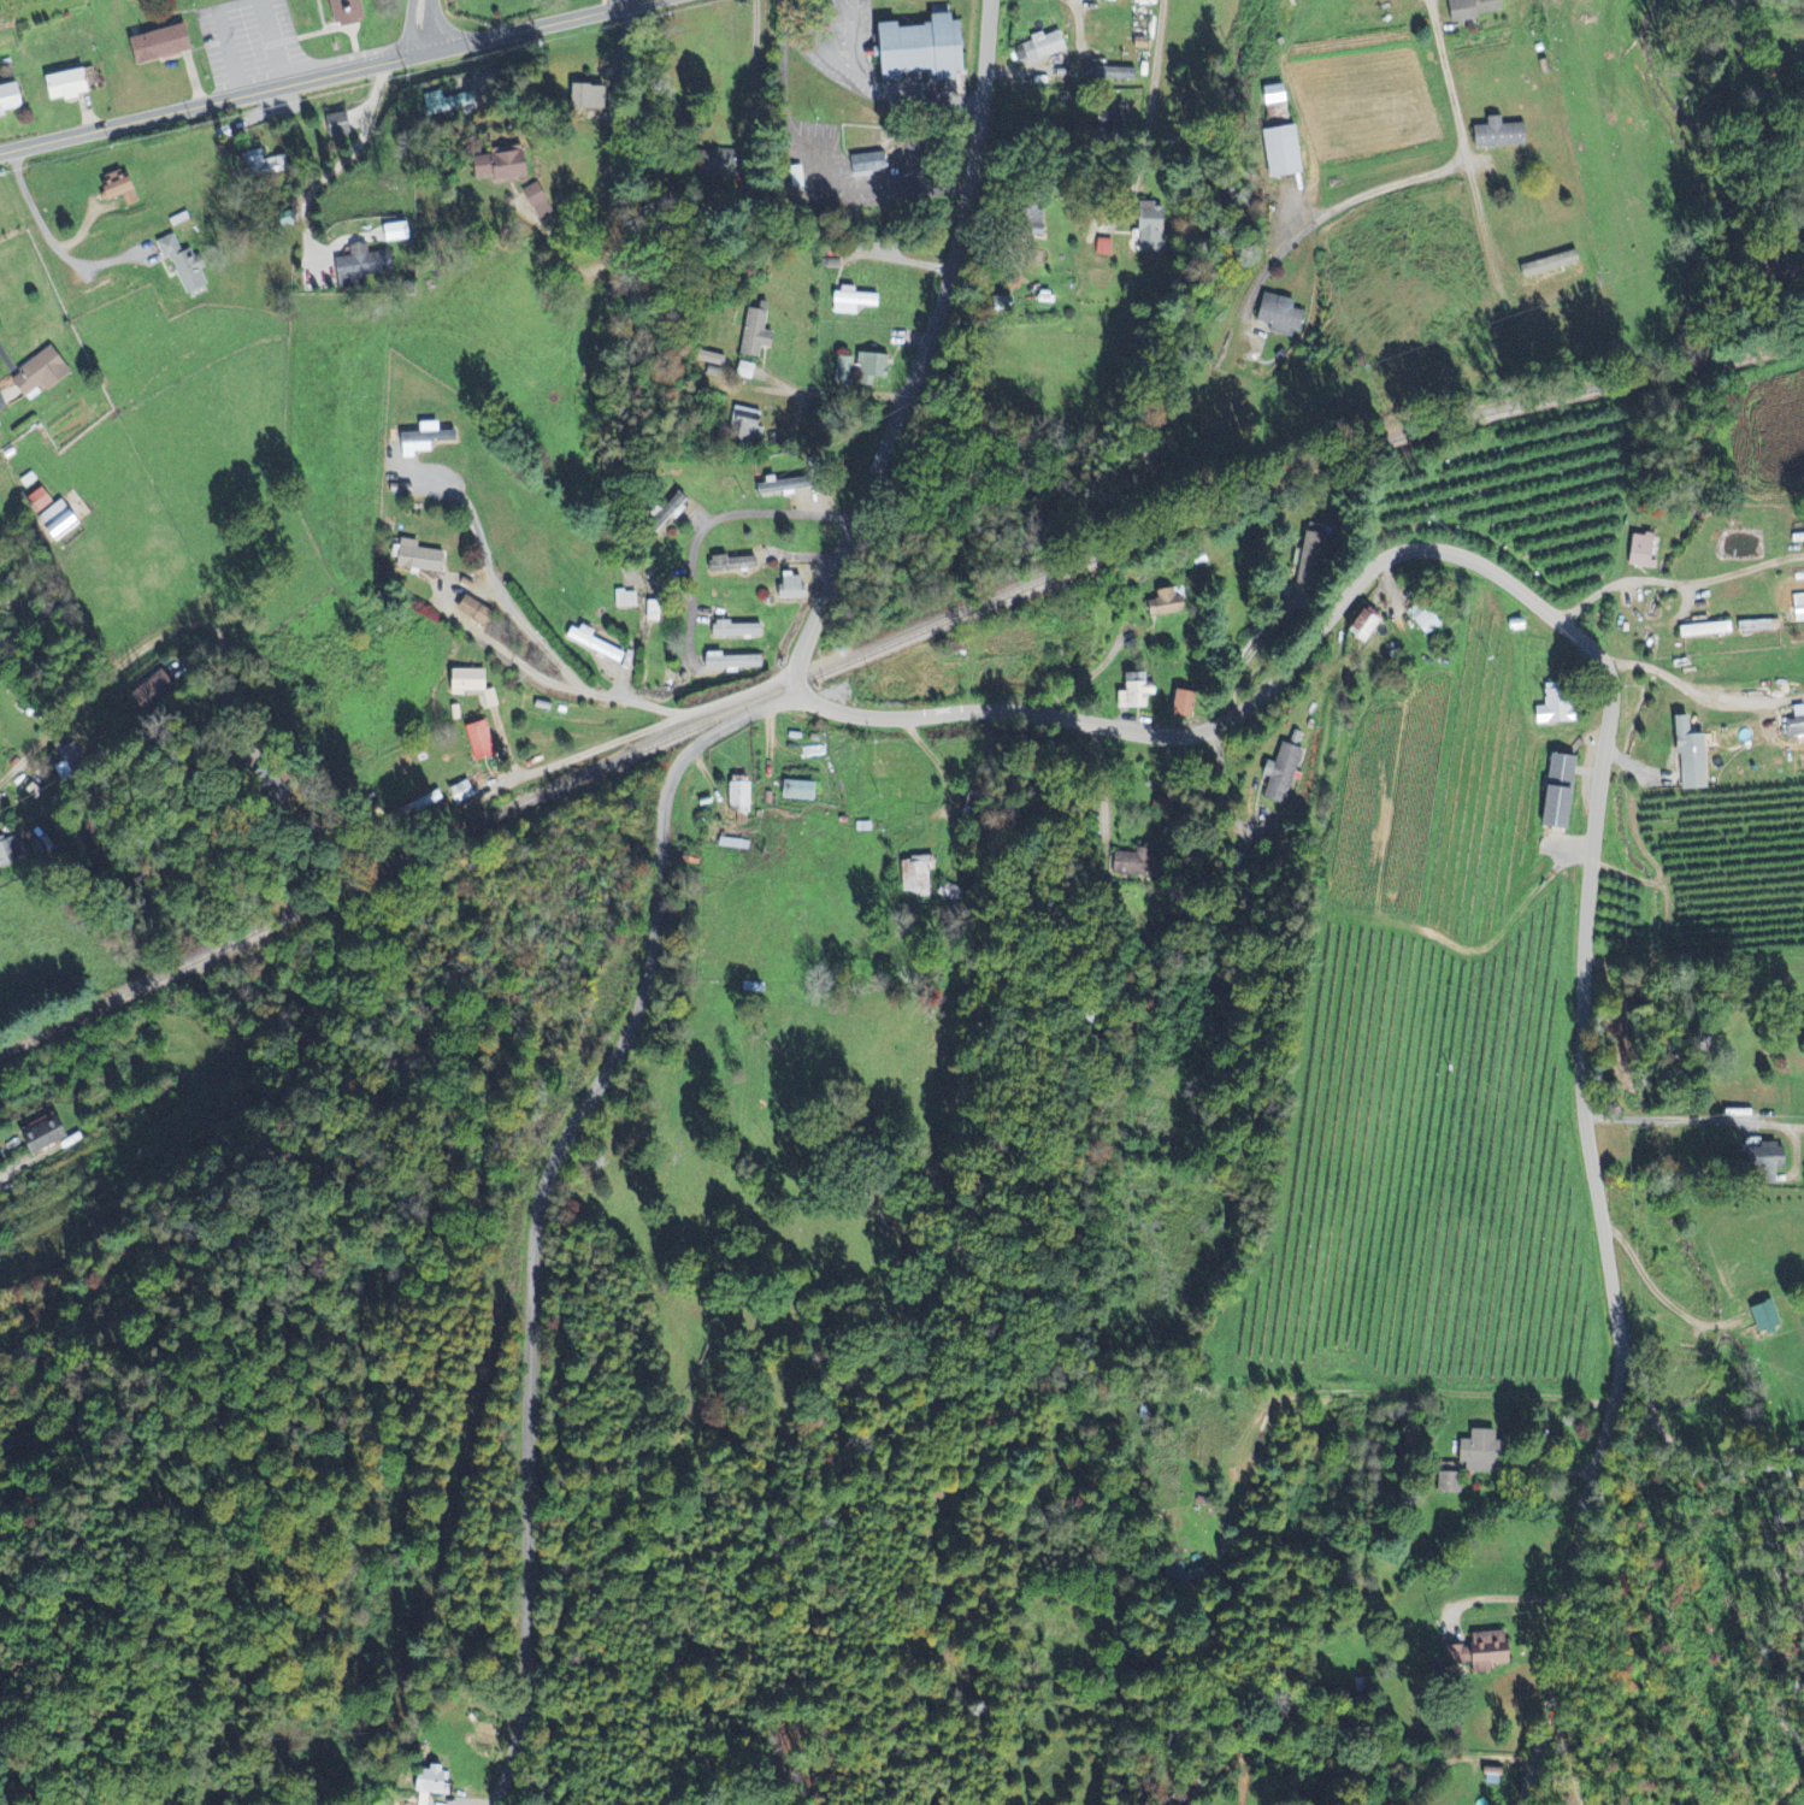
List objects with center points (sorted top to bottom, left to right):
building: (1092, 0)
building: (1470, 8)
building: (352, 11)
road: (827, 16)
road: (437, 23)
road: (411, 26)
road: (792, 33)
road: (225, 39)
road: (273, 42)
road: (839, 43)
building: (167, 45)
building: (1039, 48)
building: (916, 49)
road: (855, 55)
road: (838, 60)
building: (1108, 73)
road: (325, 75)
building: (72, 85)
road: (916, 89)
building: (1273, 94)
building: (12, 101)
building: (441, 104)
road: (1151, 116)
building: (342, 125)
building: (1497, 135)
building: (1280, 152)
road: (1467, 152)
road: (346, 158)
building: (868, 164)
building: (508, 165)
building: (265, 167)
road: (1378, 178)
road: (615, 184)
building: (123, 189)
building: (541, 196)
road: (39, 216)
building: (1149, 229)
building: (401, 232)
building: (1102, 248)
building: (187, 265)
building: (1547, 265)
building: (365, 266)
building: (850, 302)
building: (1279, 315)
building: (755, 332)
building: (860, 370)
building: (46, 373)
road: (837, 396)
building: (1, 424)
building: (748, 426)
building: (421, 441)
building: (42, 500)
building: (64, 520)
road: (476, 523)
road: (712, 526)
building: (1641, 551)
building: (415, 558)
road: (1401, 560)
building: (739, 564)
road: (1743, 571)
road: (1616, 586)
building: (790, 589)
building: (625, 600)
building: (1165, 604)
building: (472, 612)
road: (523, 619)
building: (1425, 620)
building: (1757, 626)
building: (1361, 627)
building: (736, 630)
building: (1704, 631)
building: (594, 644)
railway: (883, 645)
road: (1252, 648)
building: (730, 662)
road: (1091, 672)
road: (548, 678)
building: (464, 682)
building: (157, 691)
building: (1134, 696)
road: (1687, 701)
building: (1181, 706)
road: (90, 707)
building: (1556, 712)
building: (1796, 724)
building: (478, 741)
building: (1690, 757)
building: (69, 762)
road: (531, 775)
road: (1103, 779)
building: (796, 791)
building: (1560, 792)
building: (739, 798)
building: (733, 844)
building: (42, 845)
building: (12, 853)
building: (915, 875)
road: (1738, 965)
building: (754, 989)
building: (1802, 1013)
road: (1696, 1123)
building: (48, 1137)
building: (1764, 1164)
road: (35, 1172)
road: (541, 1199)
road: (106, 1281)
road: (1663, 1292)
building: (1764, 1316)
road: (1402, 1391)
building: (1484, 1451)
road: (1702, 1457)
building: (1448, 1480)
building: (1479, 1652)
building: (1491, 1771)
building: (432, 1785)

